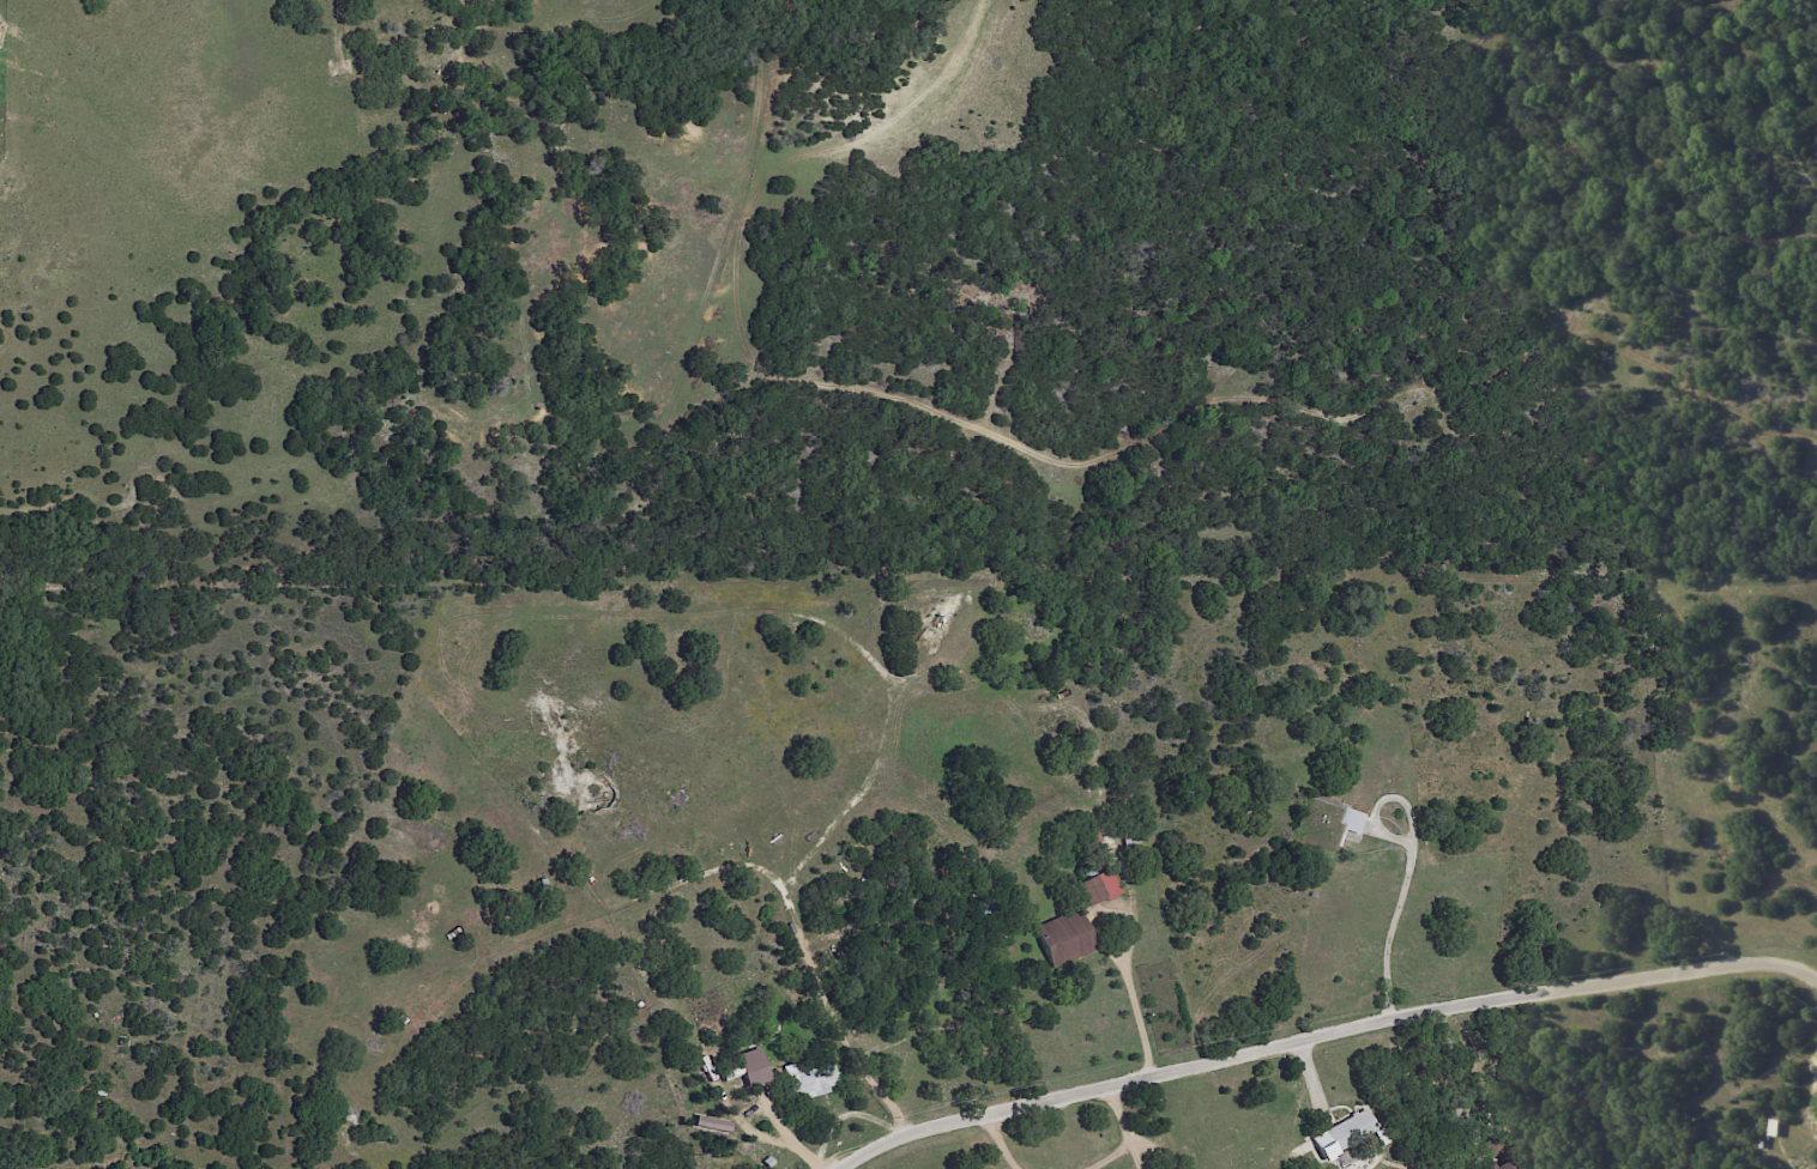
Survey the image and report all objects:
building: (1324, 811)
building: (1350, 819)
road: (1408, 870)
building: (1098, 886)
building: (1063, 938)
road: (1135, 1020)
road: (1326, 1046)
building: (750, 1066)
building: (807, 1078)
building: (1342, 1133)
road: (1133, 1140)
road: (1007, 1146)
building: (1497, 1165)
building: (1816, 1168)

